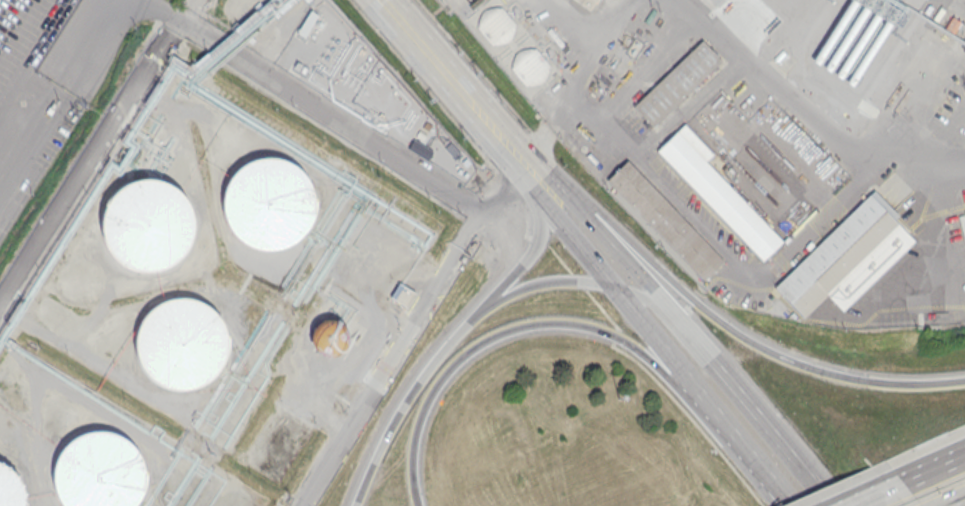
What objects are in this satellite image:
building: (715, 1)
building: (587, 3)
road: (78, 41)
road: (99, 47)
road: (480, 70)
road: (631, 83)
building: (677, 83)
road: (463, 93)
parking lot: (29, 102)
road: (319, 106)
road: (806, 115)
road: (554, 120)
road: (27, 126)
building: (421, 147)
road: (36, 151)
road: (92, 163)
building: (716, 190)
road: (574, 199)
building: (269, 206)
storage tank: (269, 206)
road: (551, 210)
building: (665, 220)
building: (148, 225)
storage tank: (148, 225)
road: (710, 230)
road: (579, 245)
building: (845, 256)
road: (525, 261)
building: (954, 263)
road: (634, 269)
building: (914, 269)
road: (602, 273)
traffic signals: (612, 286)
building: (402, 295)
building: (896, 311)
building: (944, 311)
road: (469, 317)
road: (406, 331)
road: (510, 333)
building: (330, 337)
road: (659, 343)
building: (183, 344)
storage tank: (183, 344)
road: (762, 348)
road: (753, 409)
road: (721, 420)
road: (924, 466)
building: (99, 472)
storage tank: (99, 472)
road: (762, 473)
building: (10, 490)
storage tank: (10, 490)
road: (862, 496)
road: (958, 503)

